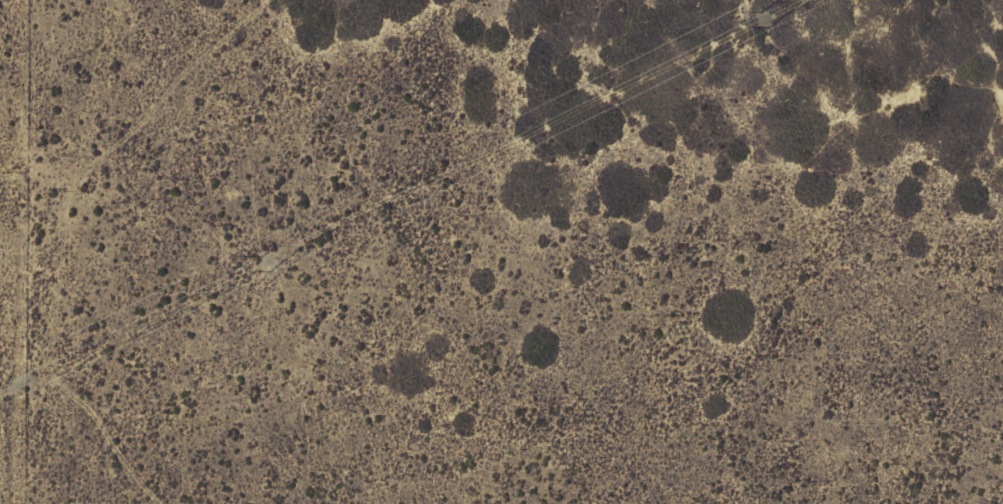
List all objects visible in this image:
power tower: (764, 17)
power tower: (265, 261)

